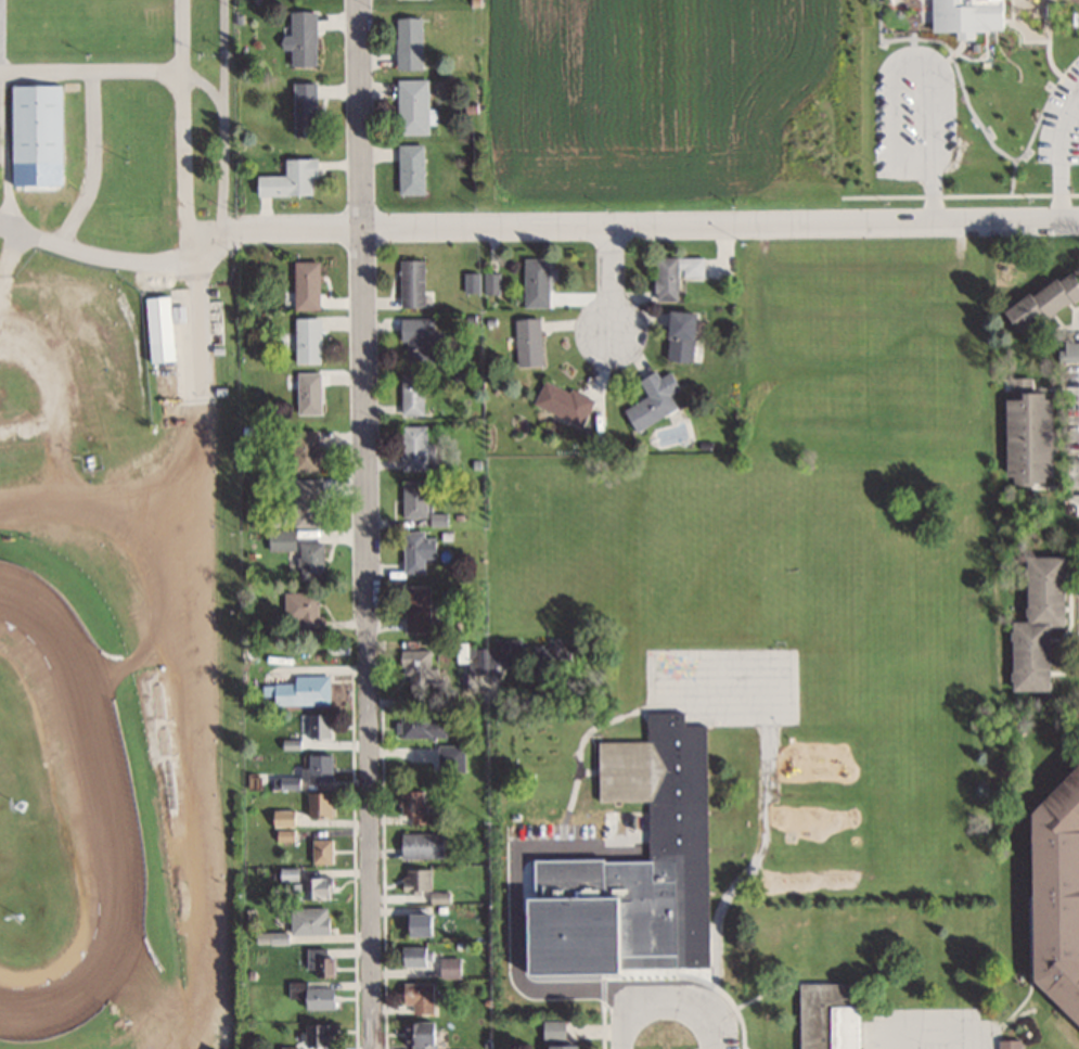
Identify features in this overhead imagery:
building: (961, 15)
building: (300, 38)
building: (407, 42)
road: (91, 69)
road: (903, 69)
crop: (660, 104)
building: (410, 106)
building: (303, 108)
building: (36, 123)
road: (183, 128)
road: (1061, 158)
road: (92, 159)
building: (409, 169)
building: (288, 179)
road: (933, 202)
road: (720, 222)
road: (269, 227)
road: (91, 248)
building: (672, 273)
road: (612, 279)
building: (534, 282)
building: (410, 283)
building: (305, 284)
building: (1067, 286)
building: (1048, 296)
building: (1020, 312)
building: (156, 328)
building: (677, 335)
building: (416, 338)
building: (306, 341)
building: (526, 342)
building: (307, 394)
building: (410, 394)
building: (650, 399)
building: (561, 401)
road: (1076, 404)
building: (1024, 437)
building: (415, 449)
building: (303, 451)
building: (413, 498)
building: (306, 502)
building: (435, 519)
road: (365, 524)
park: (119, 527)
building: (279, 540)
building: (415, 549)
building: (309, 560)
building: (1039, 591)
building: (415, 607)
building: (301, 612)
building: (561, 648)
building: (489, 655)
building: (1026, 656)
building: (414, 666)
building: (298, 691)
building: (317, 726)
building: (422, 726)
building: (450, 758)
building: (317, 769)
building: (318, 805)
building: (413, 805)
raceway: (115, 827)
building: (653, 840)
building: (420, 845)
building: (321, 850)
building: (415, 879)
building: (1057, 882)
building: (312, 887)
building: (307, 920)
building: (418, 923)
building: (413, 955)
building: (319, 960)
building: (450, 967)
building: (313, 996)
building: (418, 996)
road: (663, 998)
building: (825, 1015)
building: (317, 1034)
building: (419, 1035)
building: (554, 1035)
road: (914, 1038)

